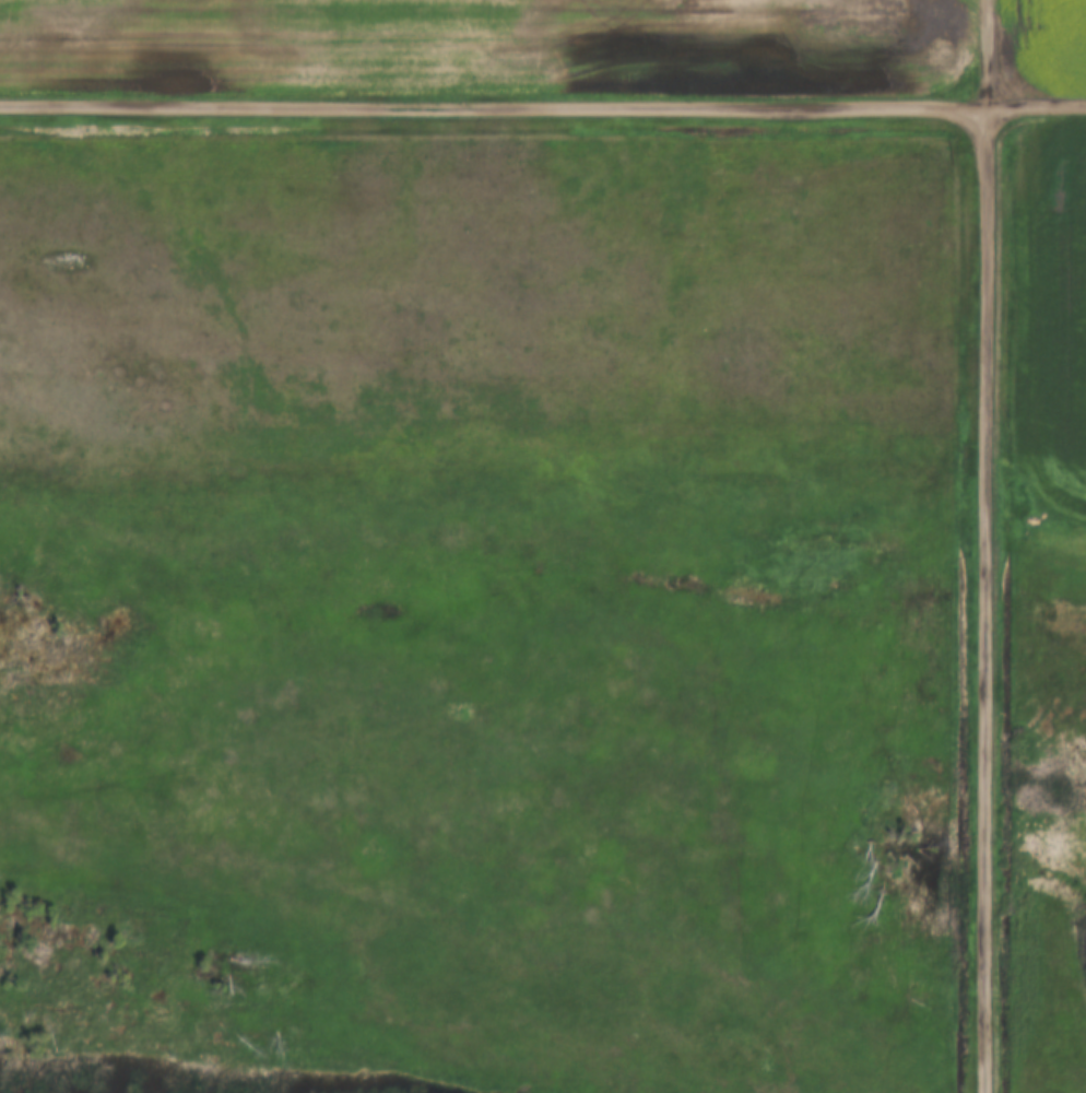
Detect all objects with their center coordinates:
road: (982, 51)
road: (543, 103)
road: (982, 597)

